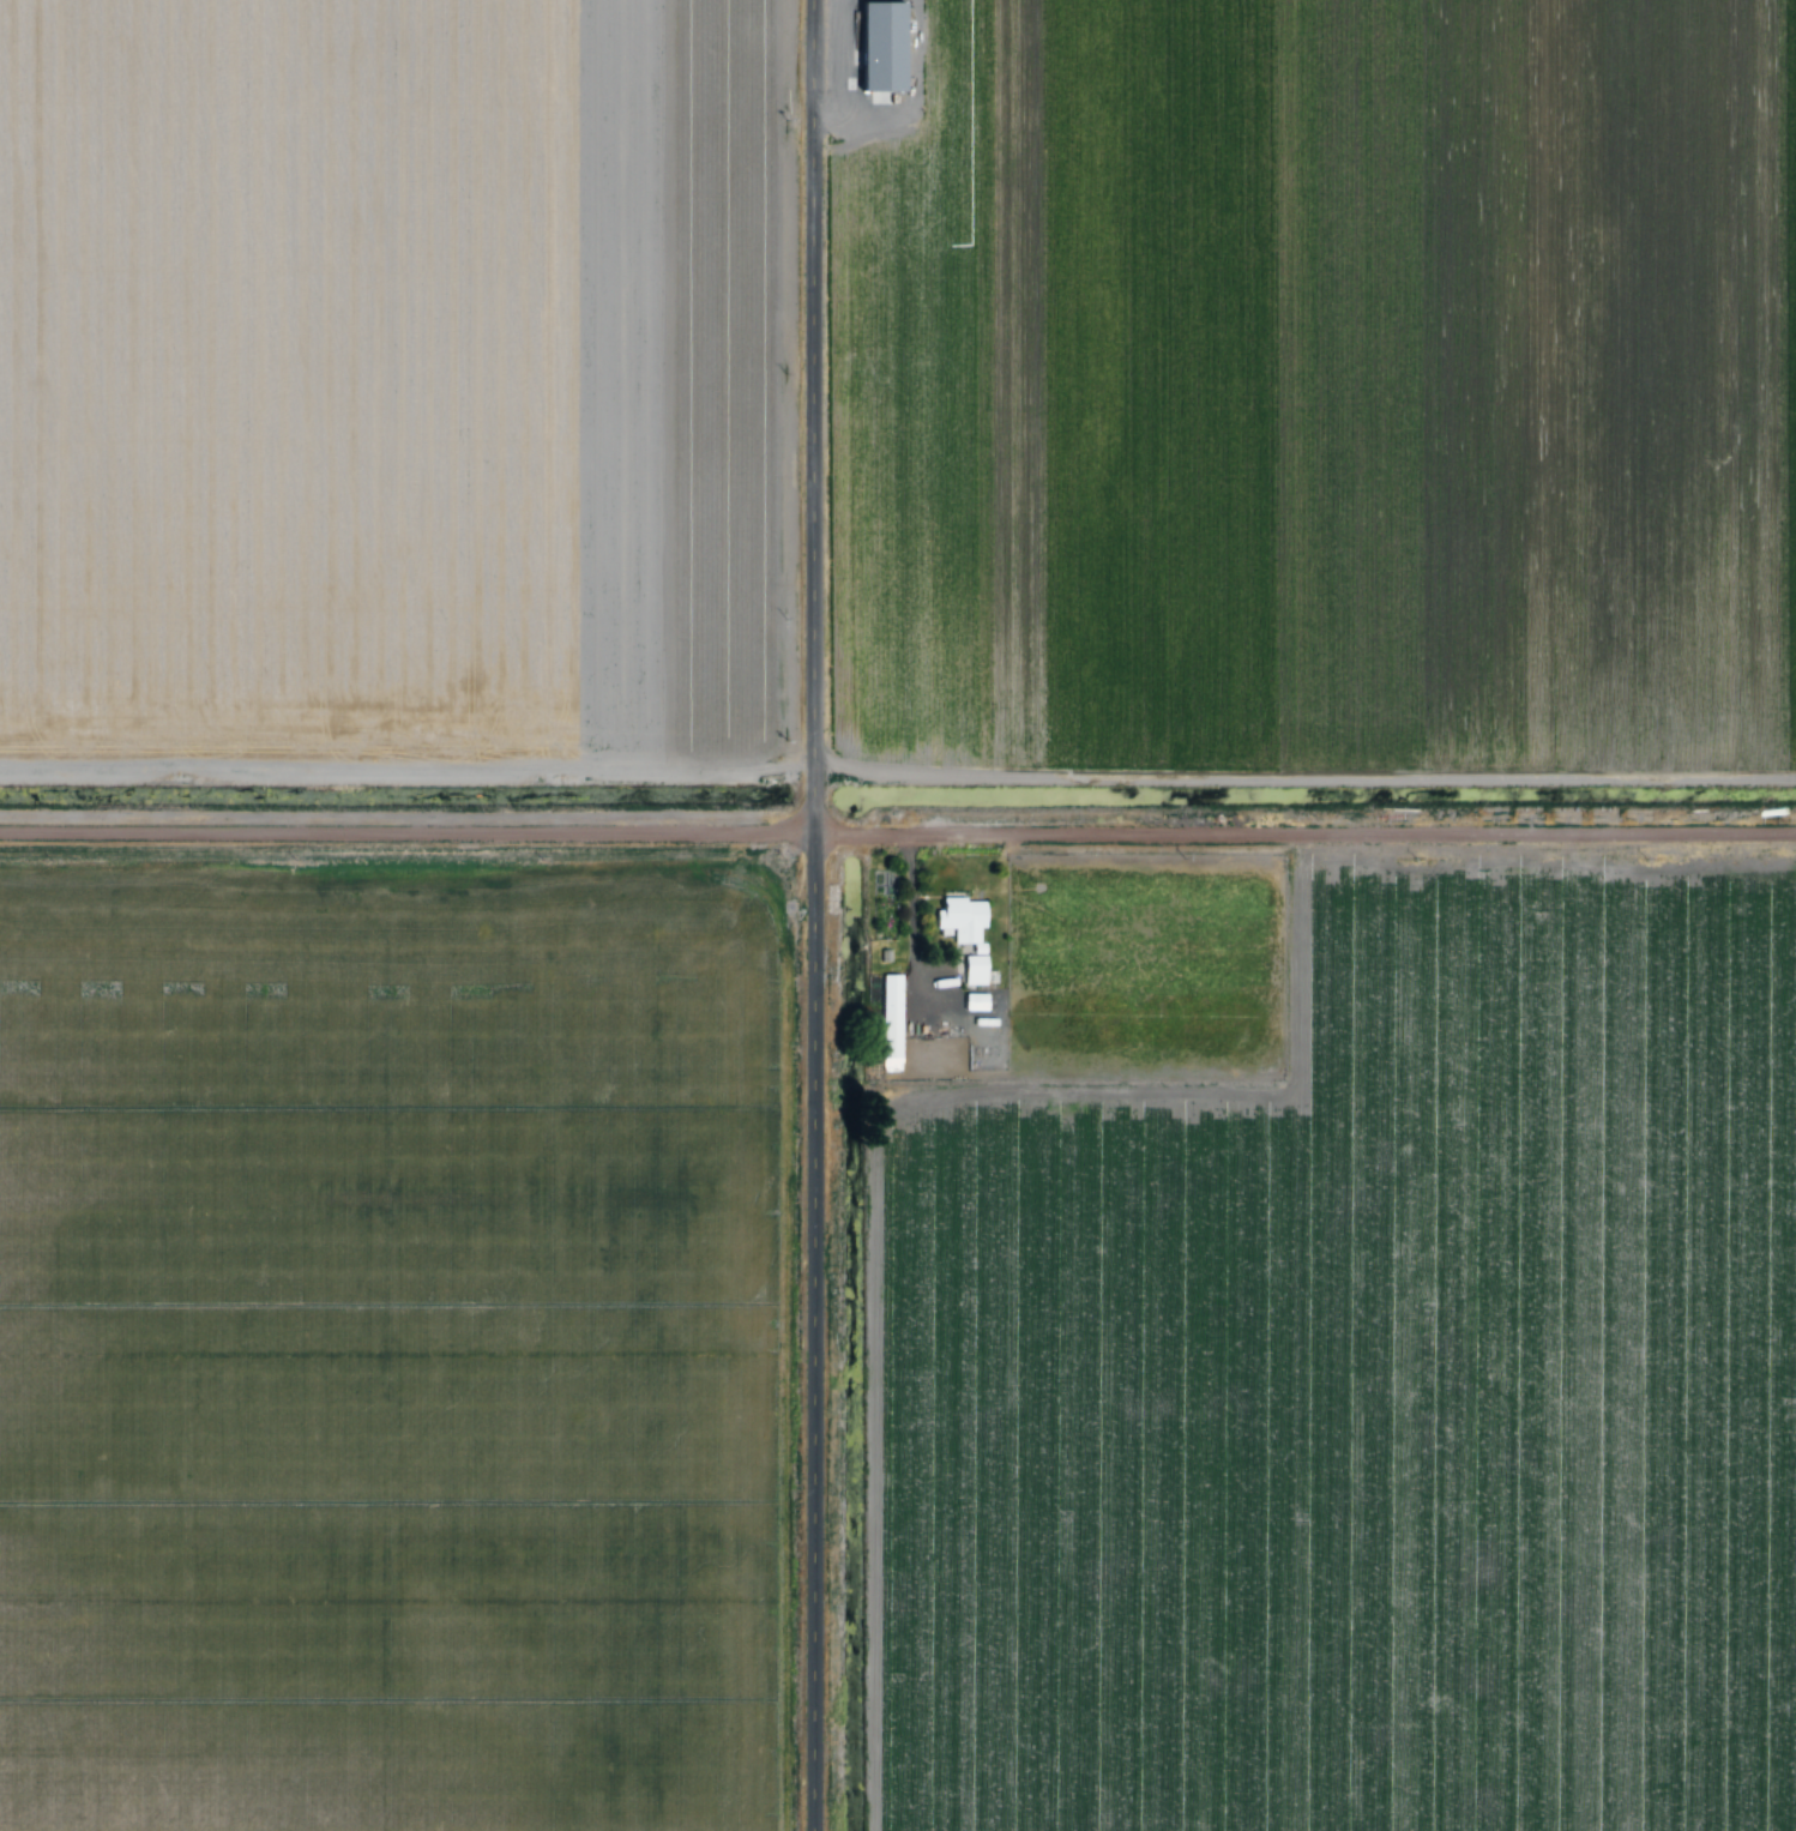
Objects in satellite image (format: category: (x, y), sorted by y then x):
building: (886, 44)
crop: (396, 377)
crop: (1314, 383)
road: (897, 826)
building: (885, 883)
road: (824, 915)
building: (965, 918)
building: (888, 954)
crop: (1149, 965)
building: (977, 970)
building: (891, 1022)
crop: (391, 1344)
crop: (1366, 1383)

